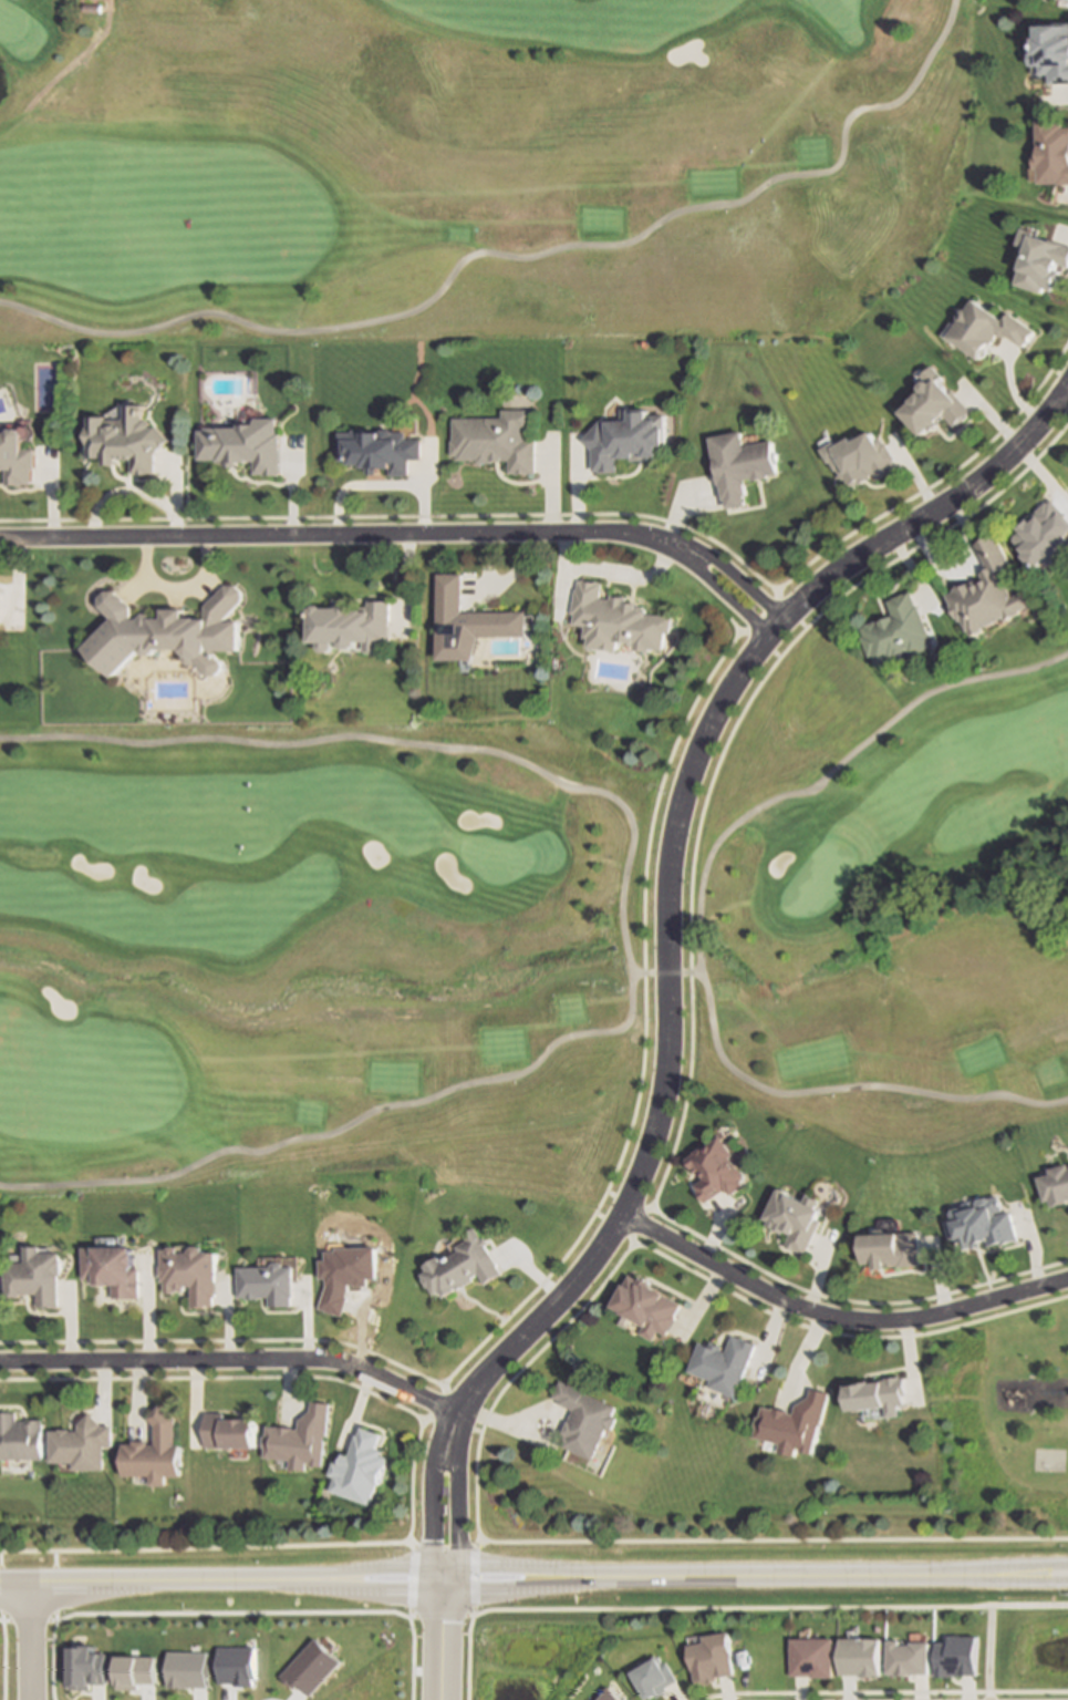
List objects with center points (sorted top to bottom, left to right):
building: (94, 7)
park: (830, 10)
building: (1051, 50)
building: (1050, 152)
park: (468, 166)
road: (519, 258)
building: (1038, 259)
building: (981, 327)
building: (927, 401)
building: (126, 436)
building: (622, 436)
building: (492, 437)
building: (245, 442)
building: (376, 447)
building: (15, 455)
building: (854, 456)
building: (738, 462)
building: (1043, 532)
road: (317, 533)
road: (714, 560)
road: (611, 571)
road: (705, 576)
road: (175, 587)
building: (986, 590)
building: (615, 618)
building: (467, 619)
building: (349, 625)
road: (806, 627)
building: (167, 630)
building: (896, 630)
road: (670, 846)
park: (495, 859)
park: (818, 883)
road: (622, 927)
road: (698, 928)
park: (521, 945)
road: (689, 951)
road: (665, 973)
road: (683, 1093)
building: (712, 1170)
building: (1054, 1184)
building: (790, 1218)
building: (979, 1224)
building: (888, 1249)
building: (464, 1267)
building: (116, 1270)
building: (194, 1274)
building: (350, 1275)
building: (39, 1277)
building: (270, 1284)
road: (849, 1301)
building: (644, 1306)
road: (833, 1316)
road: (840, 1335)
road: (234, 1360)
building: (720, 1363)
road: (515, 1376)
building: (873, 1395)
building: (583, 1419)
building: (792, 1424)
park: (1002, 1426)
building: (231, 1431)
building: (20, 1439)
building: (303, 1439)
building: (83, 1444)
building: (157, 1452)
park: (1049, 1460)
building: (363, 1469)
road: (432, 1492)
road: (453, 1494)
road: (756, 1576)
road: (221, 1577)
road: (768, 1608)
road: (409, 1622)
road: (443, 1638)
road: (27, 1639)
road: (989, 1652)
road: (466, 1657)
building: (861, 1658)
building: (712, 1659)
building: (813, 1659)
building: (909, 1659)
building: (226, 1662)
building: (326, 1662)
building: (655, 1679)
road: (883, 1693)

